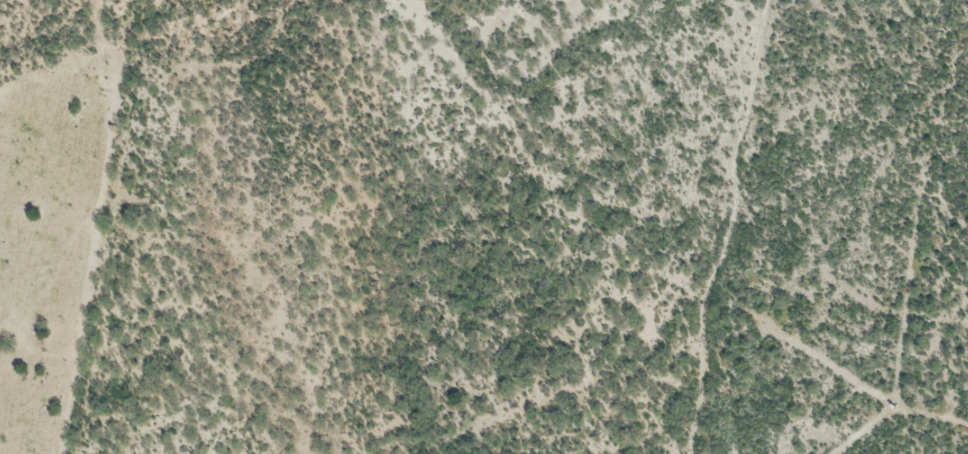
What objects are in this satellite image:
road: (758, 227)

